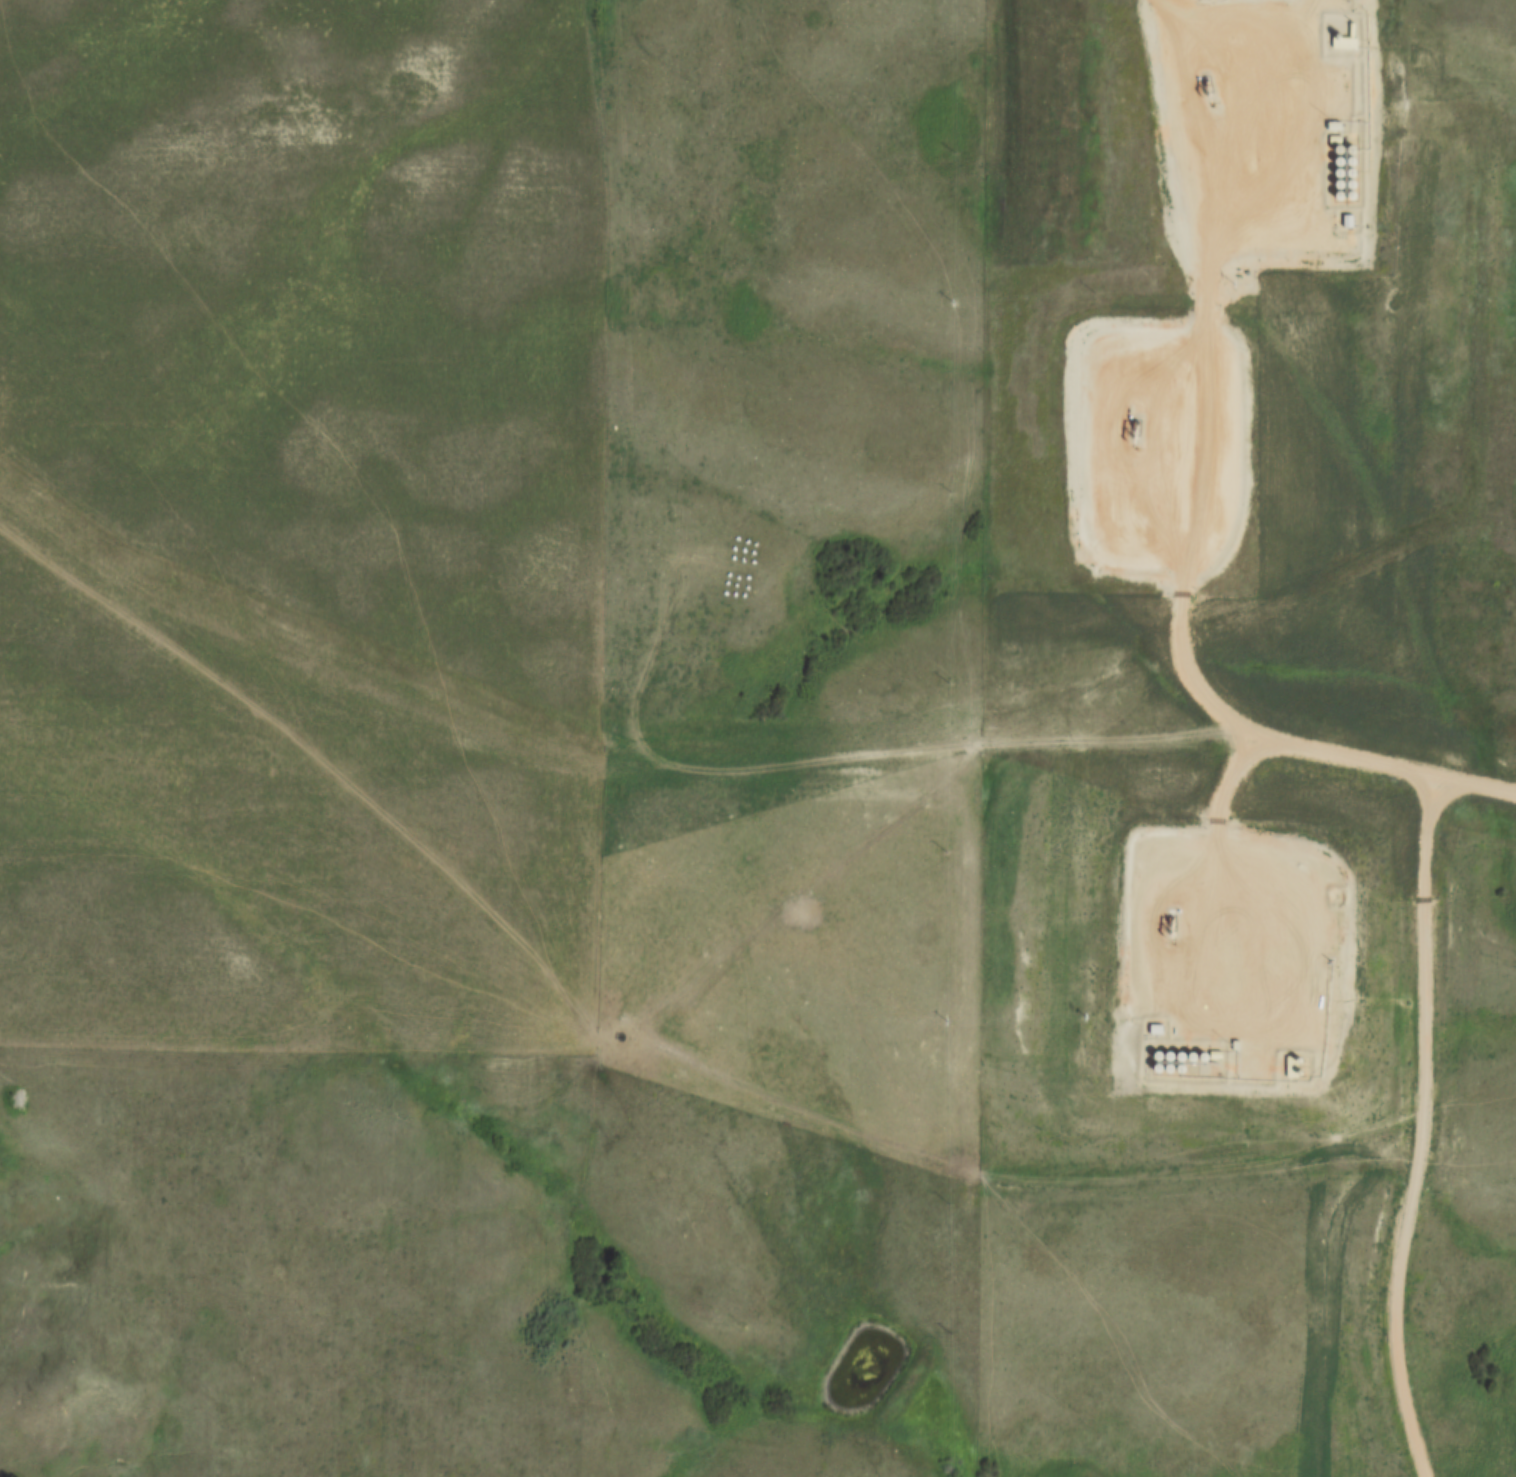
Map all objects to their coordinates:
building: (1345, 45)
petroleum well: (1205, 84)
building: (1335, 122)
building: (1342, 144)
storage tank: (1342, 144)
building: (1355, 144)
storage tank: (1355, 144)
building: (1341, 156)
storage tank: (1341, 156)
building: (1354, 156)
storage tank: (1354, 156)
building: (1342, 167)
storage tank: (1342, 167)
building: (1355, 168)
storage tank: (1355, 168)
building: (1355, 178)
storage tank: (1355, 178)
building: (1342, 179)
storage tank: (1342, 179)
building: (1355, 190)
storage tank: (1355, 190)
building: (1342, 191)
storage tank: (1342, 191)
building: (1349, 217)
petroleum well: (1135, 428)
road: (1188, 519)
building: (1312, 832)
petroleum well: (1168, 921)
building: (1158, 1049)
storage tank: (1158, 1049)
building: (1169, 1049)
storage tank: (1169, 1049)
building: (1182, 1050)
storage tank: (1182, 1050)
building: (1194, 1050)
storage tank: (1194, 1050)
building: (1205, 1050)
storage tank: (1205, 1050)
building: (1158, 1063)
storage tank: (1158, 1063)
building: (1170, 1063)
storage tank: (1170, 1063)
building: (1182, 1063)
storage tank: (1182, 1063)
building: (1194, 1063)
storage tank: (1194, 1063)
building: (1295, 1063)
building: (1206, 1064)
storage tank: (1206, 1064)
road: (1423, 1132)

